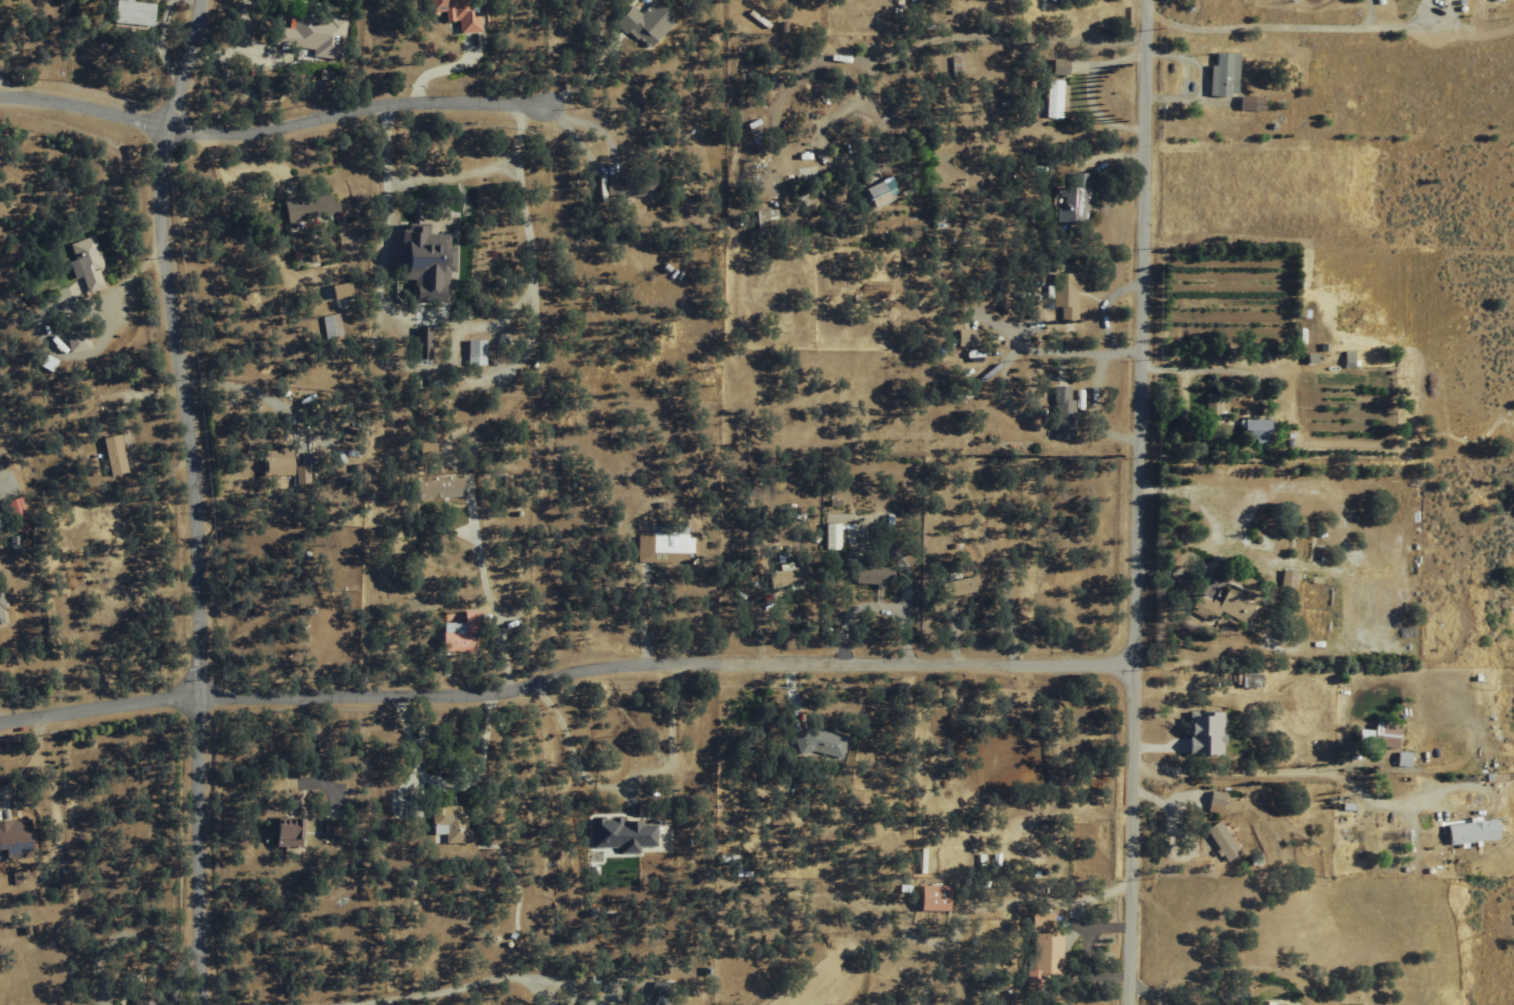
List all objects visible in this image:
building: (913, 0)
building: (1444, 0)
building: (127, 11)
building: (454, 12)
building: (643, 23)
building: (309, 32)
building: (1059, 67)
building: (1222, 73)
building: (1053, 99)
road: (82, 100)
road: (353, 106)
building: (630, 184)
building: (873, 191)
building: (1073, 199)
building: (306, 207)
building: (421, 261)
building: (80, 262)
building: (1064, 294)
building: (329, 326)
building: (964, 338)
building: (72, 341)
building: (420, 342)
building: (473, 352)
building: (1062, 413)
building: (1214, 419)
building: (1258, 430)
building: (108, 454)
building: (272, 462)
building: (299, 470)
building: (506, 481)
building: (436, 487)
road: (192, 499)
road: (1133, 502)
building: (828, 535)
building: (657, 548)
building: (870, 574)
building: (781, 577)
building: (1288, 578)
building: (959, 586)
building: (1222, 606)
building: (0, 621)
building: (458, 631)
road: (562, 667)
building: (1204, 734)
building: (1377, 738)
building: (818, 743)
building: (1403, 760)
road: (1247, 766)
building: (1021, 775)
building: (448, 822)
building: (327, 829)
building: (283, 832)
building: (1471, 832)
building: (622, 834)
building: (13, 838)
building: (1221, 841)
building: (931, 898)
building: (1040, 960)
road: (437, 986)
building: (138, 1000)
building: (1264, 1004)

